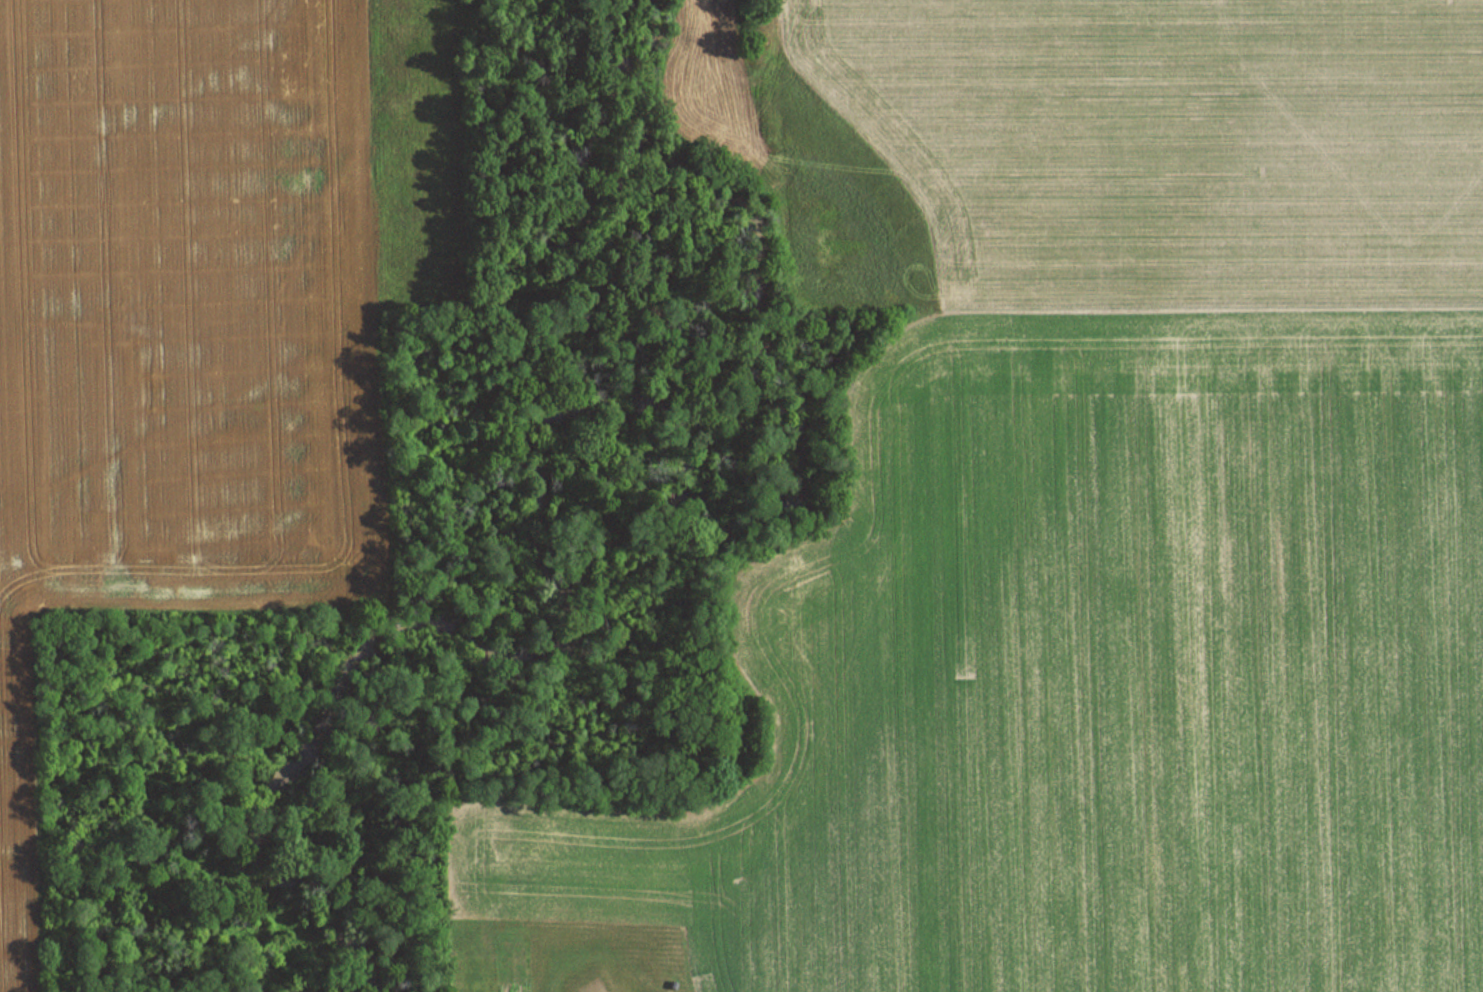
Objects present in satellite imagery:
crop: (1166, 138)
crop: (197, 307)
crop: (1083, 671)

